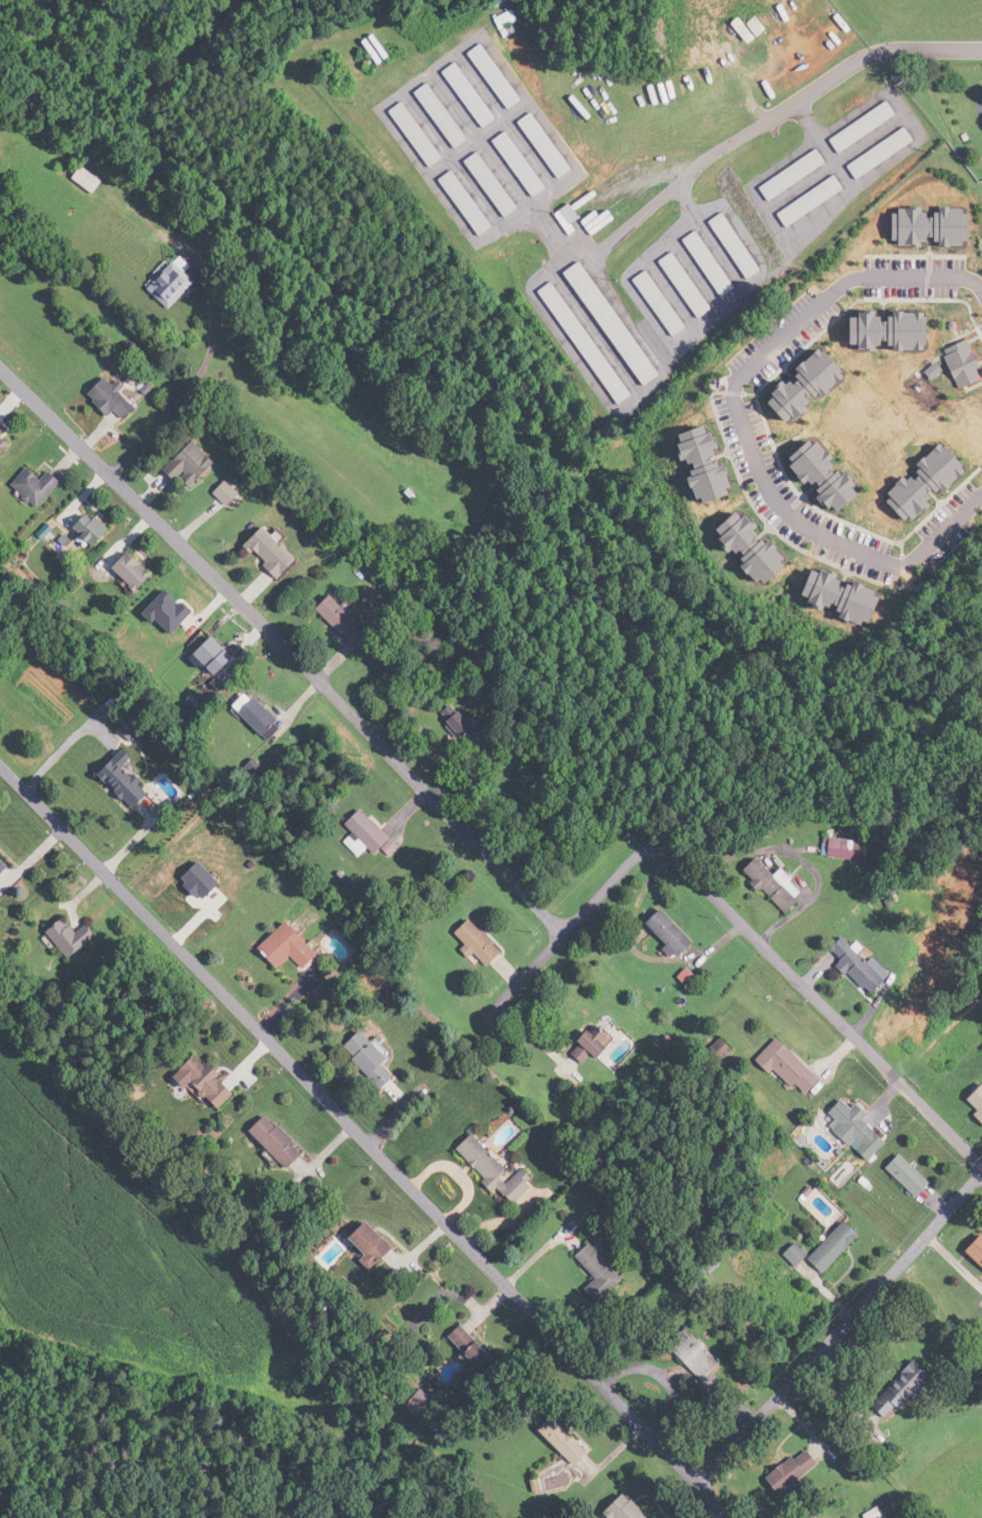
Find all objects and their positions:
building: (752, 28)
building: (382, 48)
road: (879, 51)
building: (499, 76)
building: (474, 95)
building: (591, 104)
building: (447, 116)
building: (868, 128)
building: (422, 134)
building: (549, 145)
building: (885, 153)
building: (523, 164)
building: (798, 176)
building: (92, 180)
building: (496, 185)
building: (815, 202)
building: (472, 203)
building: (574, 218)
building: (605, 222)
building: (739, 246)
building: (714, 264)
building: (177, 285)
building: (691, 285)
building: (666, 303)
road: (715, 313)
building: (620, 323)
building: (594, 342)
building: (115, 400)
road: (740, 424)
building: (5, 441)
building: (194, 466)
building: (39, 486)
building: (228, 494)
building: (96, 530)
building: (274, 553)
building: (138, 573)
building: (346, 620)
road: (286, 646)
building: (981, 703)
building: (267, 719)
building: (131, 781)
building: (372, 833)
building: (831, 848)
building: (5, 865)
building: (764, 886)
building: (675, 934)
building: (78, 939)
building: (482, 945)
road: (551, 947)
building: (293, 948)
building: (846, 970)
road: (816, 998)
building: (610, 1046)
building: (710, 1049)
building: (376, 1061)
building: (777, 1066)
building: (212, 1084)
building: (972, 1104)
building: (840, 1123)
road: (364, 1139)
building: (283, 1143)
building: (500, 1173)
building: (900, 1175)
building: (377, 1245)
building: (820, 1247)
building: (972, 1253)
building: (784, 1255)
building: (696, 1264)
building: (605, 1275)
road: (841, 1328)
building: (680, 1355)
building: (888, 1391)
building: (577, 1449)
building: (799, 1470)
building: (633, 1509)
building: (880, 1513)
building: (818, 1516)

